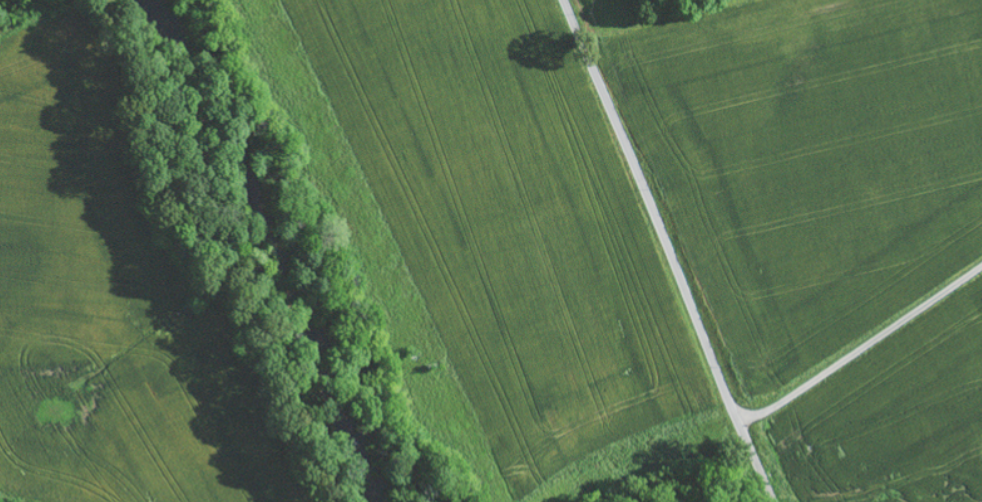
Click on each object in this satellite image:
road: (668, 250)
road: (862, 352)

